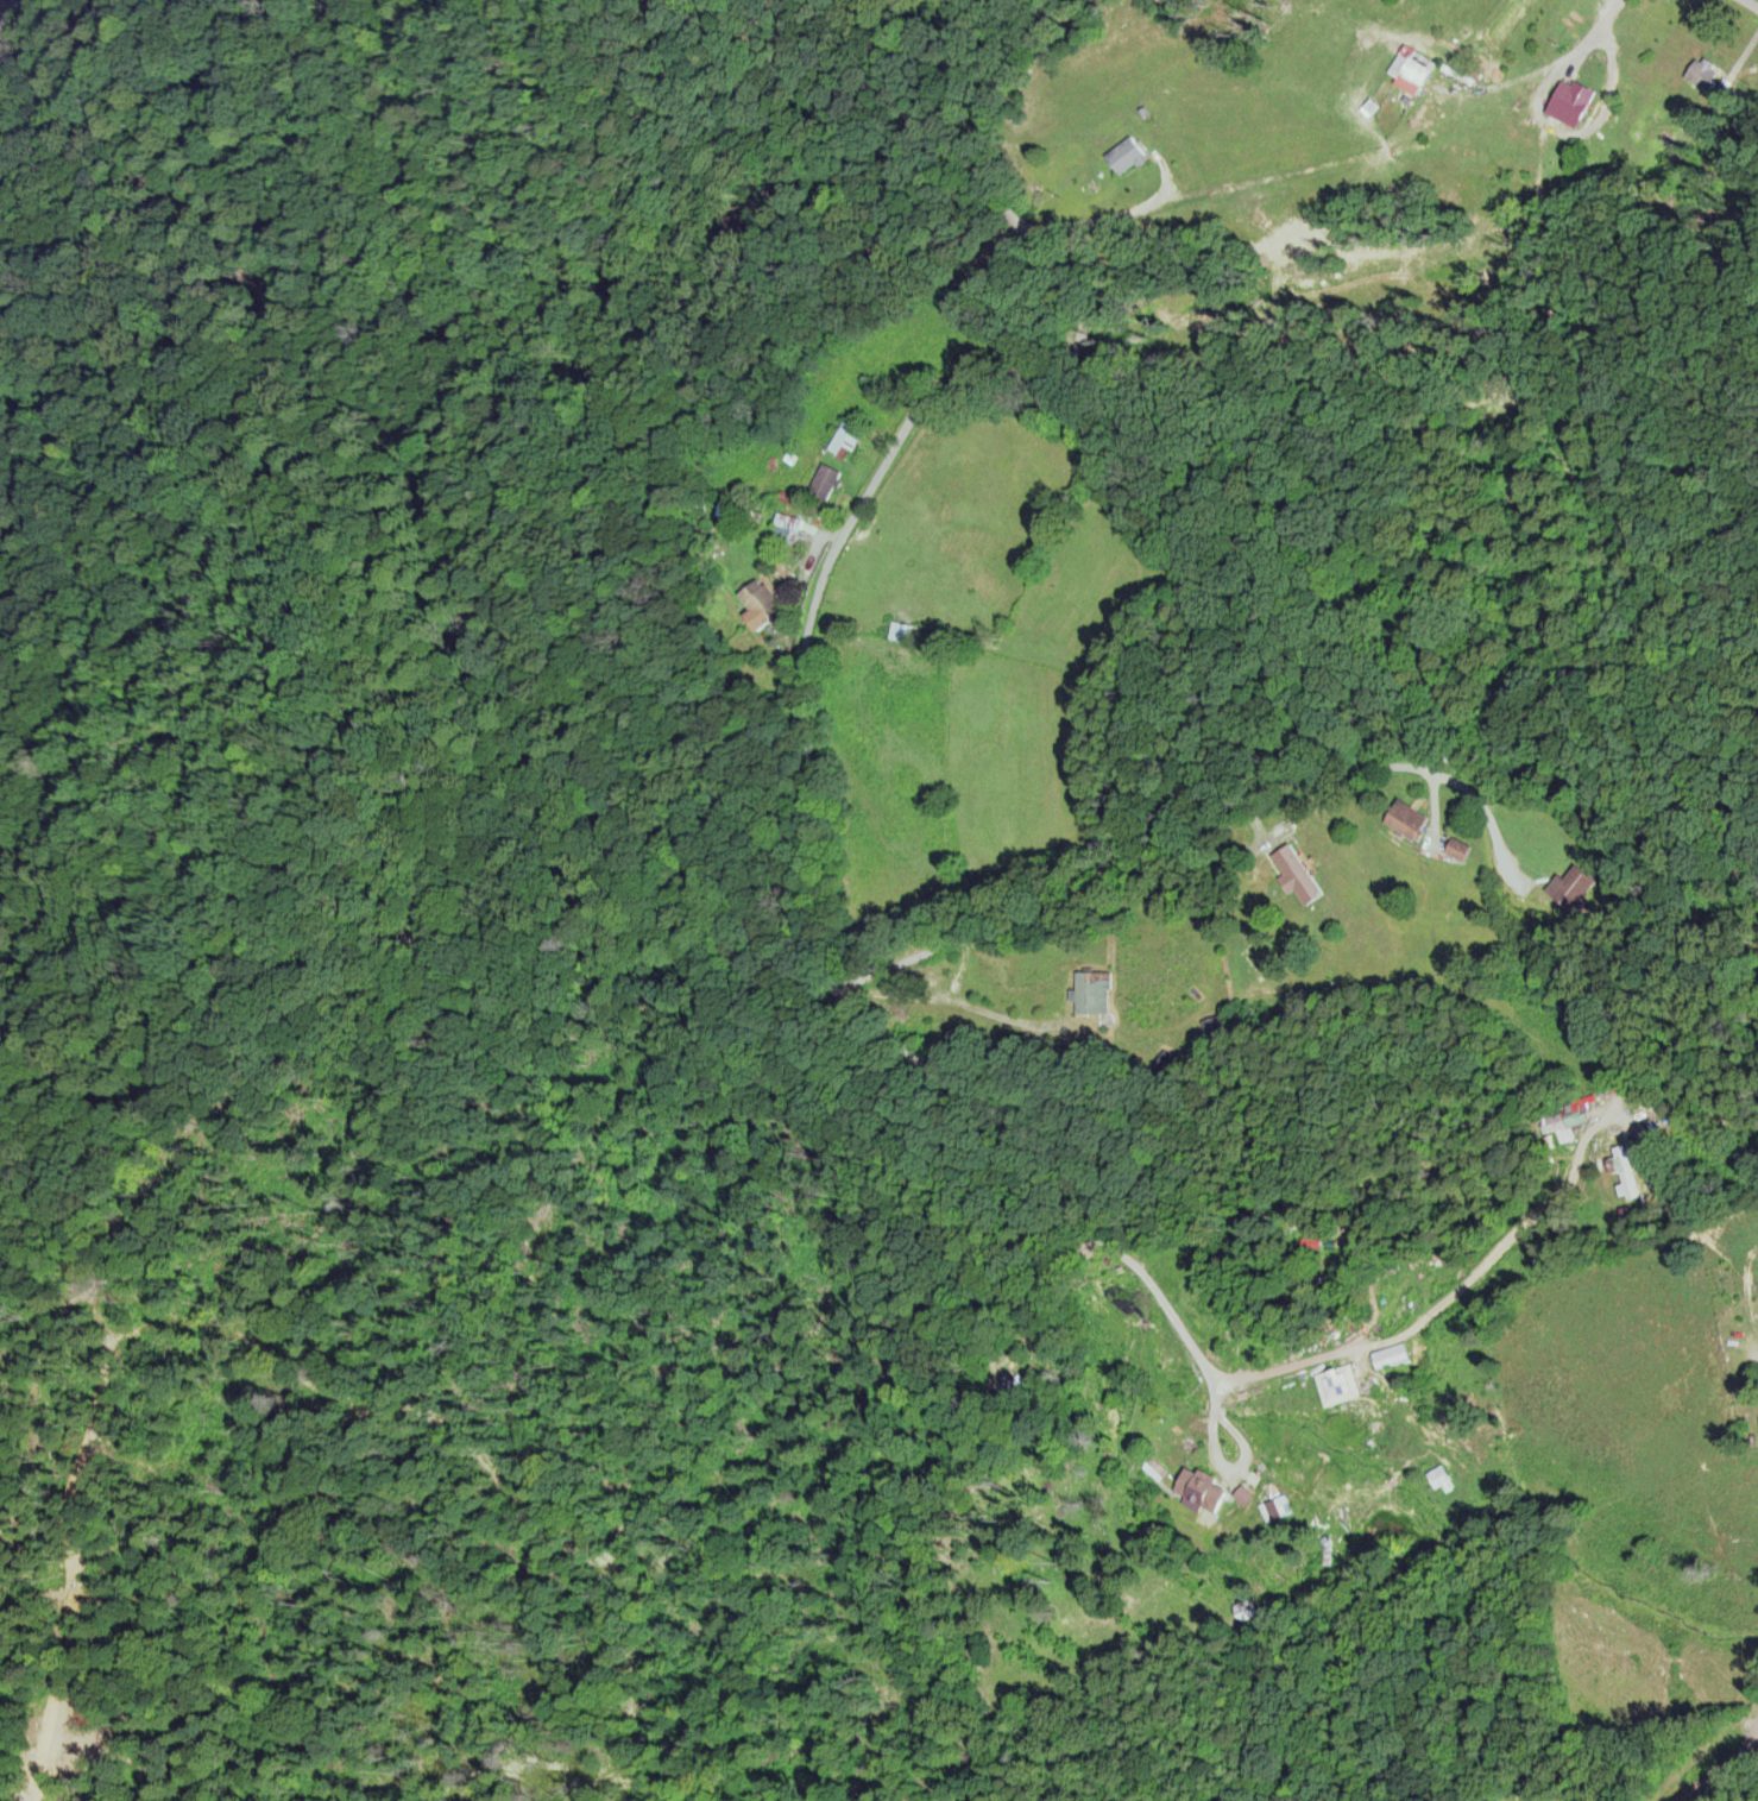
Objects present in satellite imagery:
road: (1754, 1)
railway: (10, 13)
road: (1606, 14)
railway: (15, 23)
road: (1741, 51)
building: (1422, 73)
building: (1573, 97)
road: (1561, 126)
building: (1129, 153)
building: (848, 437)
building: (825, 480)
building: (899, 630)
road: (804, 678)
road: (1430, 799)
road: (1485, 813)
road: (1128, 856)
building: (1299, 875)
building: (1569, 886)
road: (932, 974)
building: (1094, 990)
road: (949, 1000)
building: (1216, 1027)
building: (1625, 1183)
road: (1504, 1245)
building: (1390, 1354)
road: (1214, 1462)
building: (1271, 1509)
road: (1715, 1764)
road: (8, 1784)

